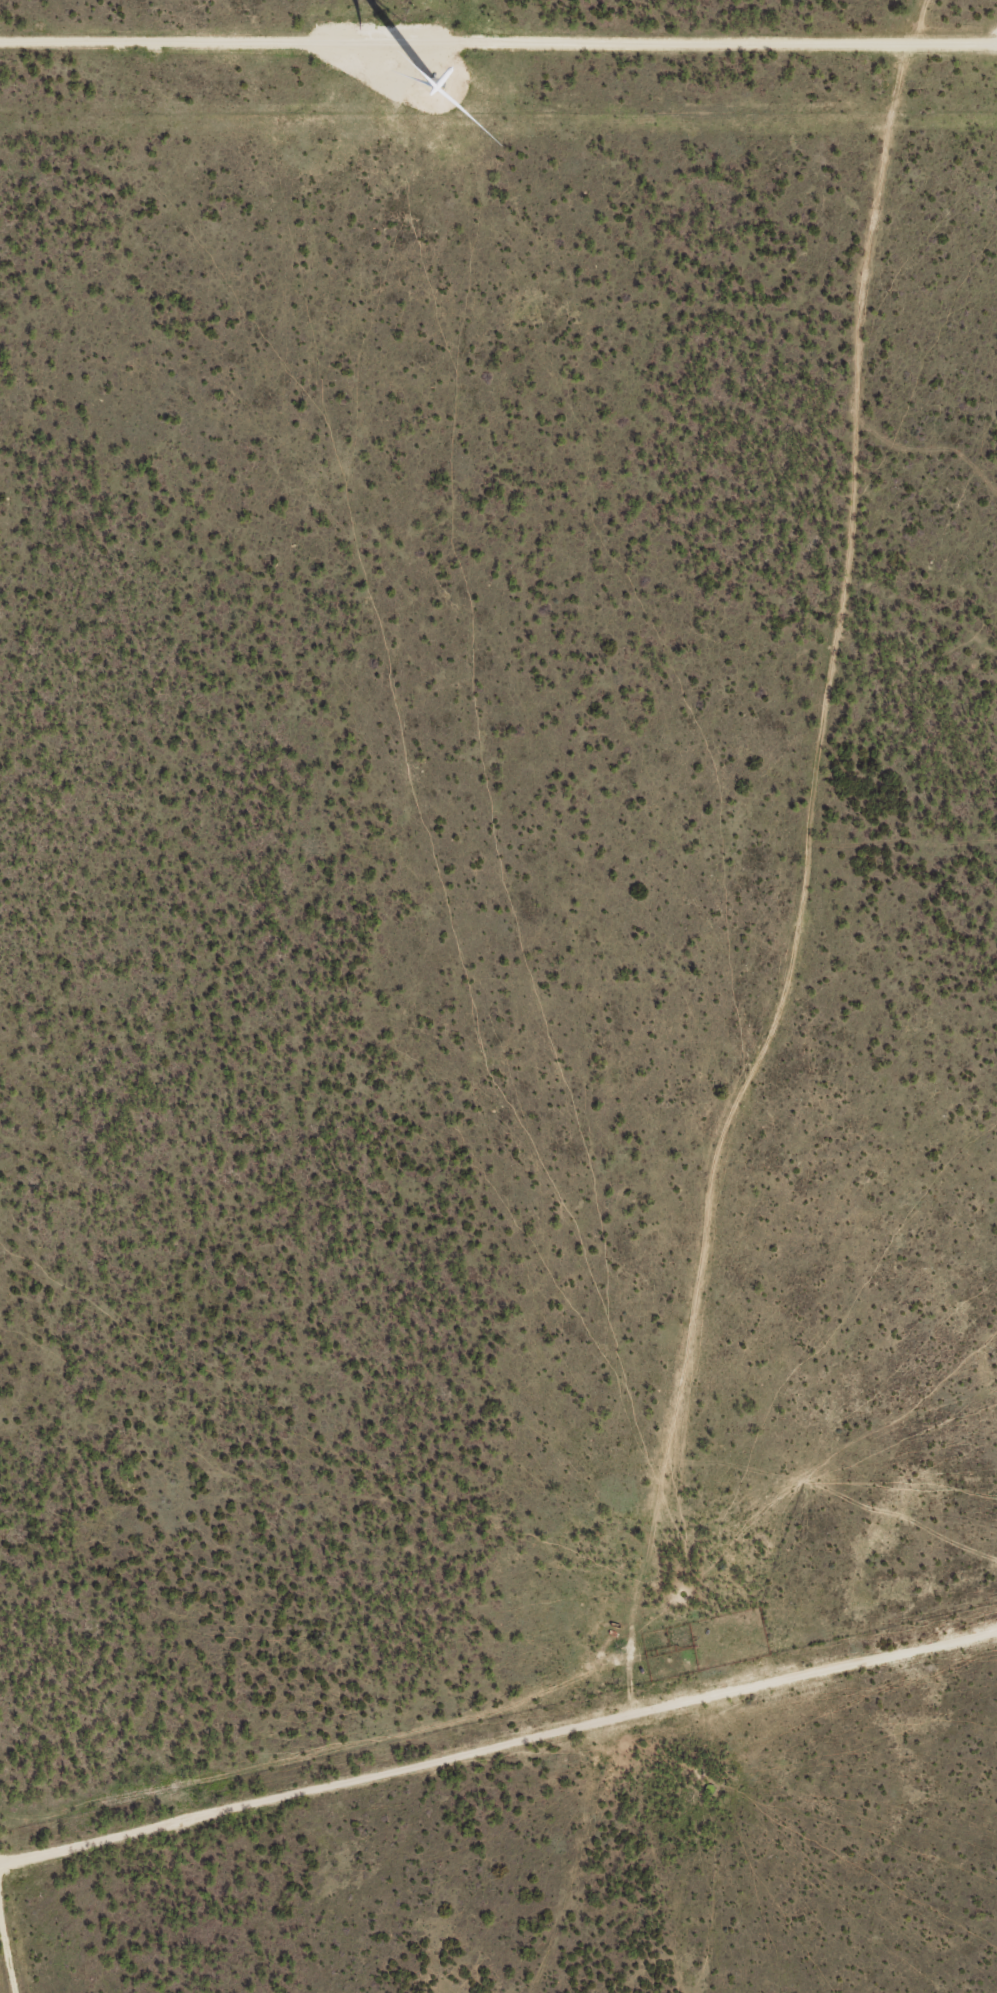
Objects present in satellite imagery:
wind turbine: (419, 76)
road: (735, 996)
road: (801, 1694)

